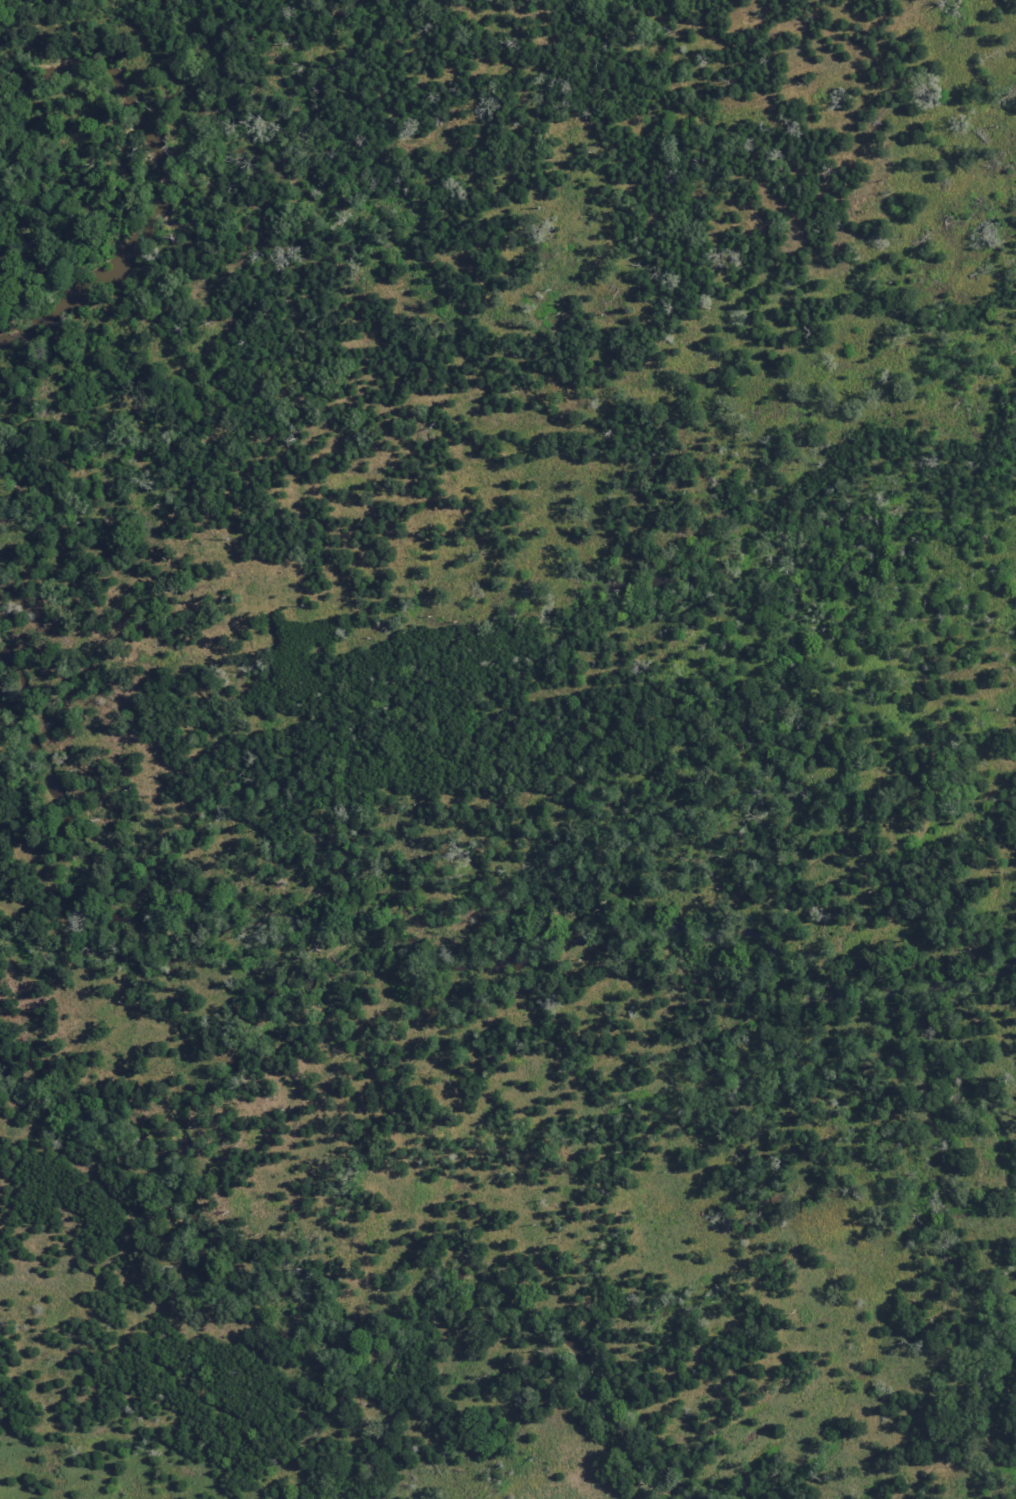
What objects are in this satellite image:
road: (631, 1376)

